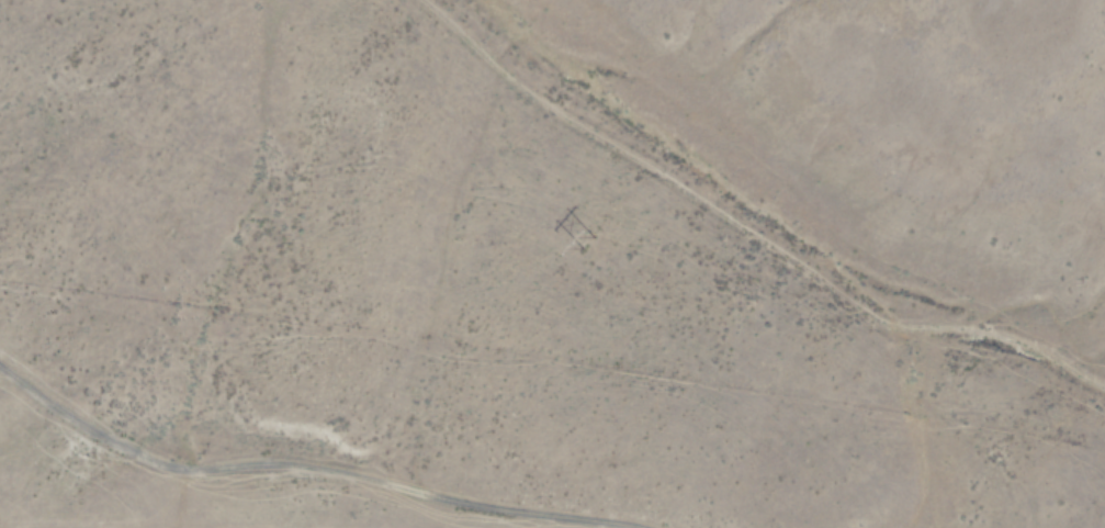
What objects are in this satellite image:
road: (722, 228)
power tower: (589, 243)

